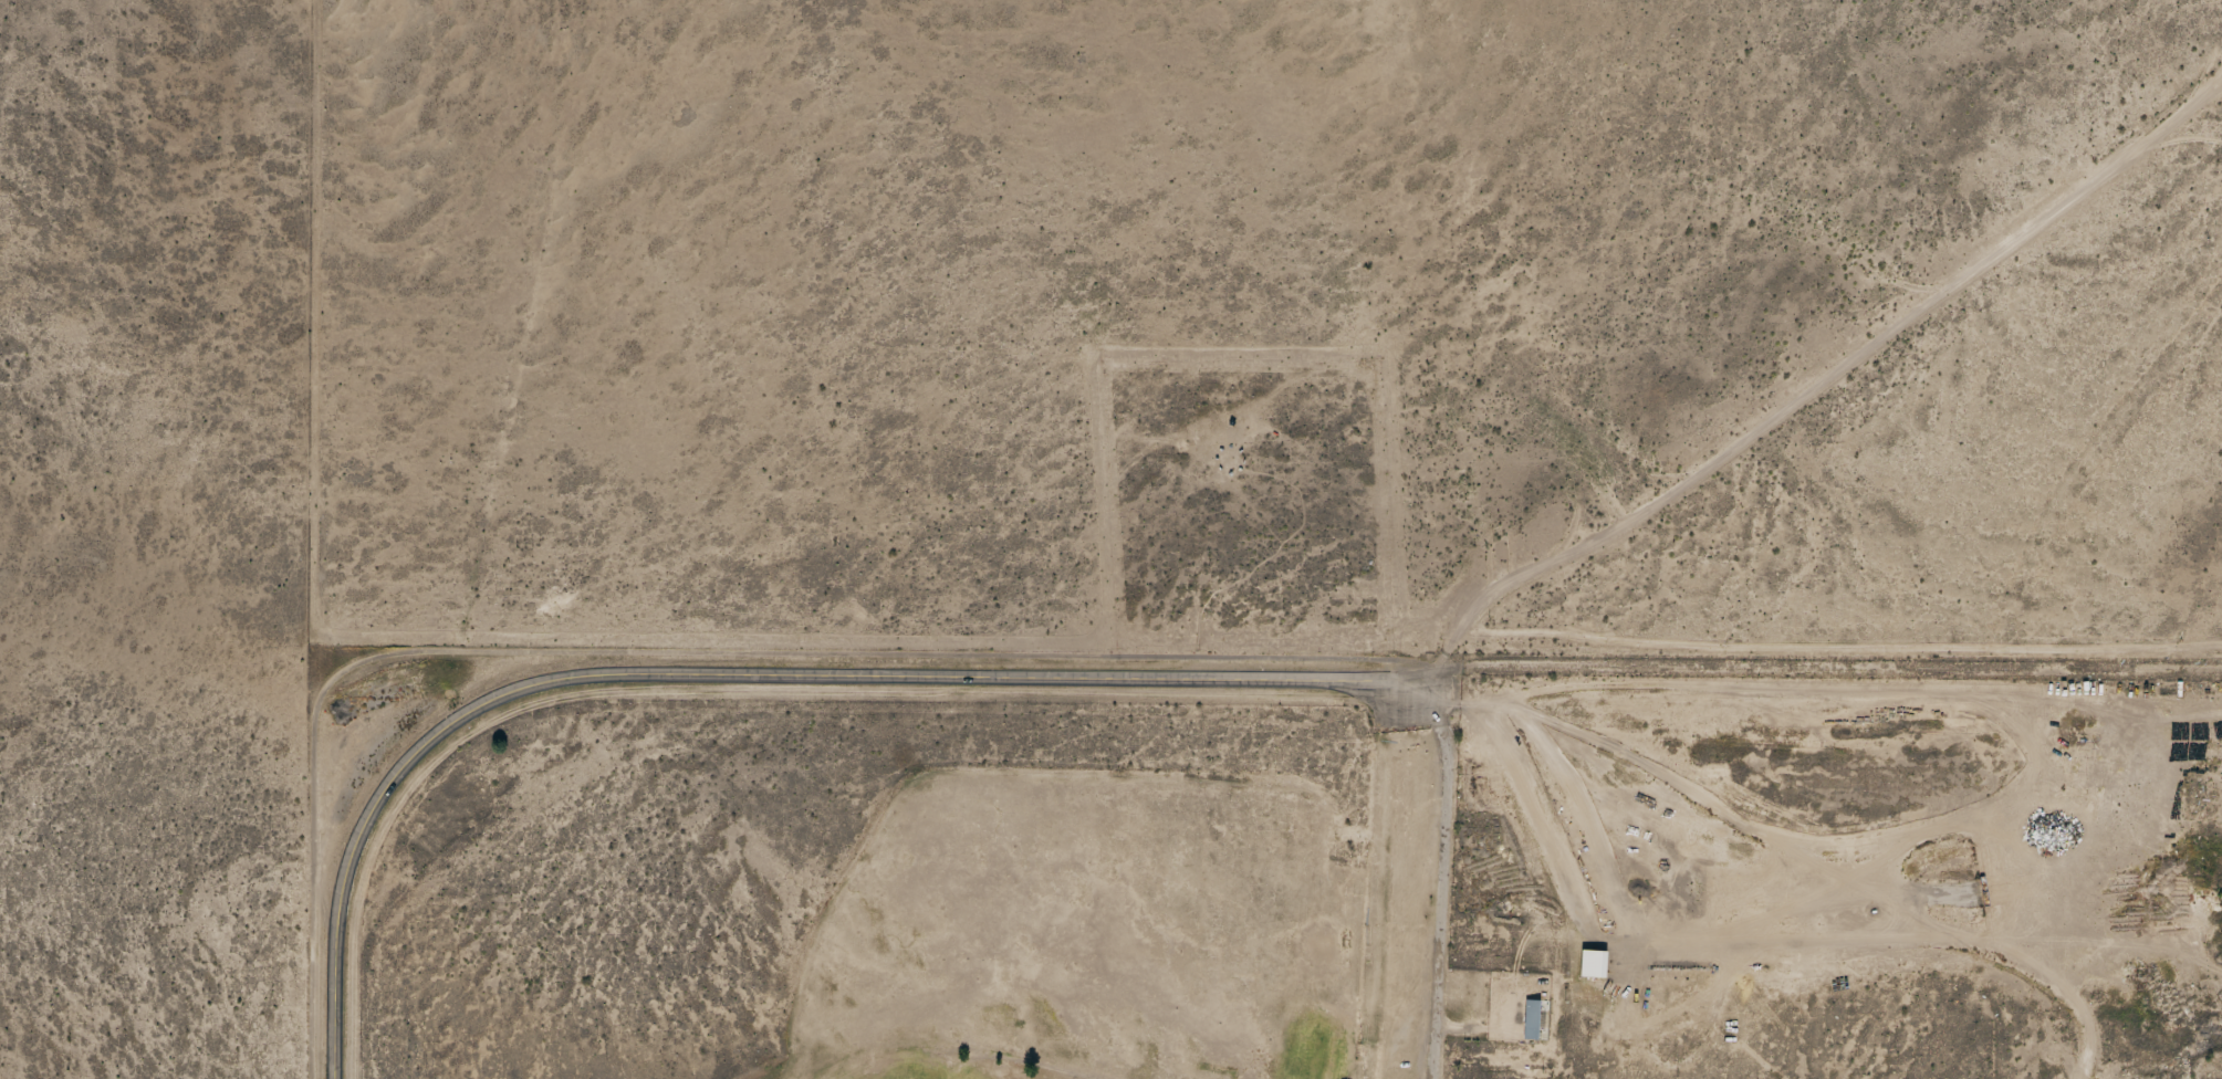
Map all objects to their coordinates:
road: (1657, 475)
road: (747, 674)
road: (1835, 690)
park: (878, 897)
building: (1593, 963)
building: (1531, 1019)

